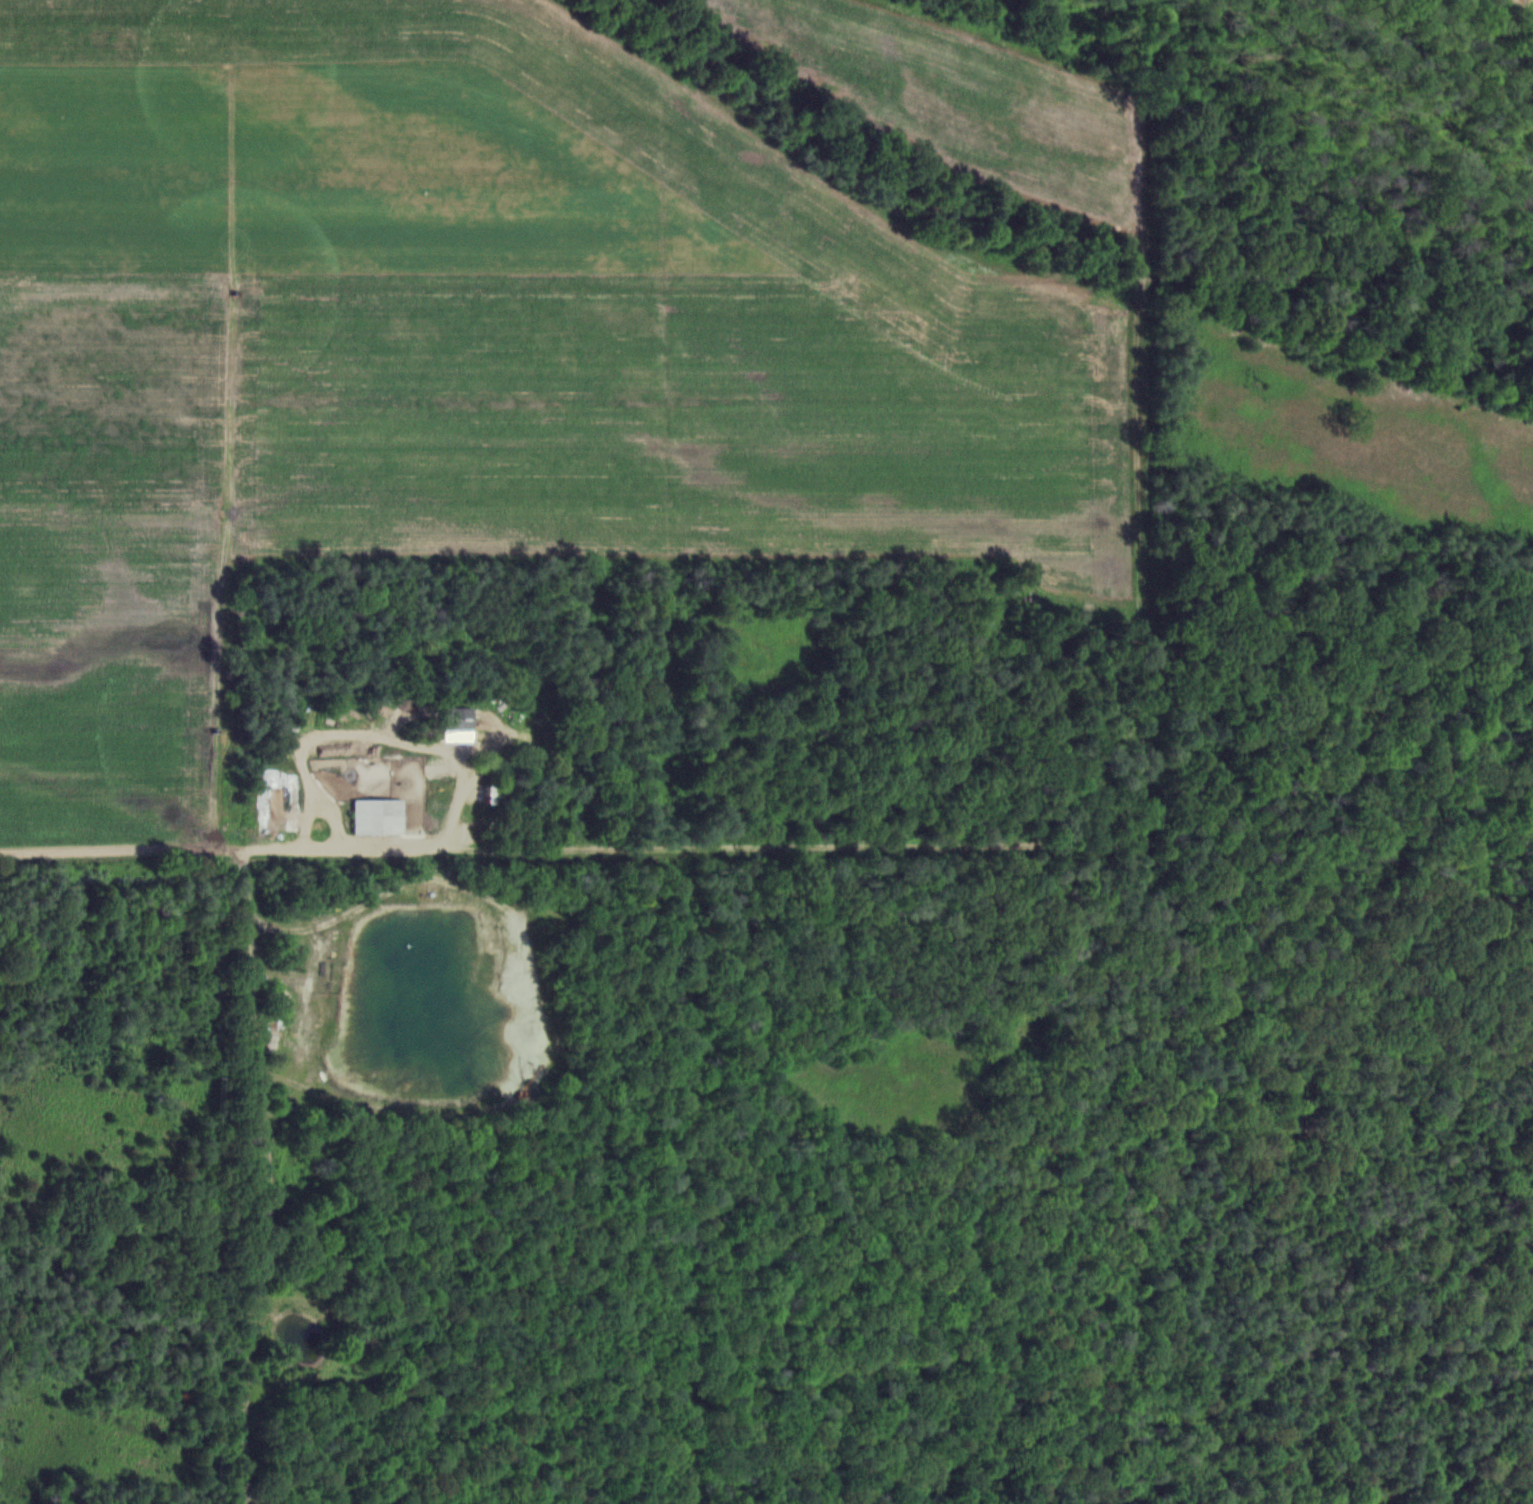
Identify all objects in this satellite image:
building: (379, 817)

